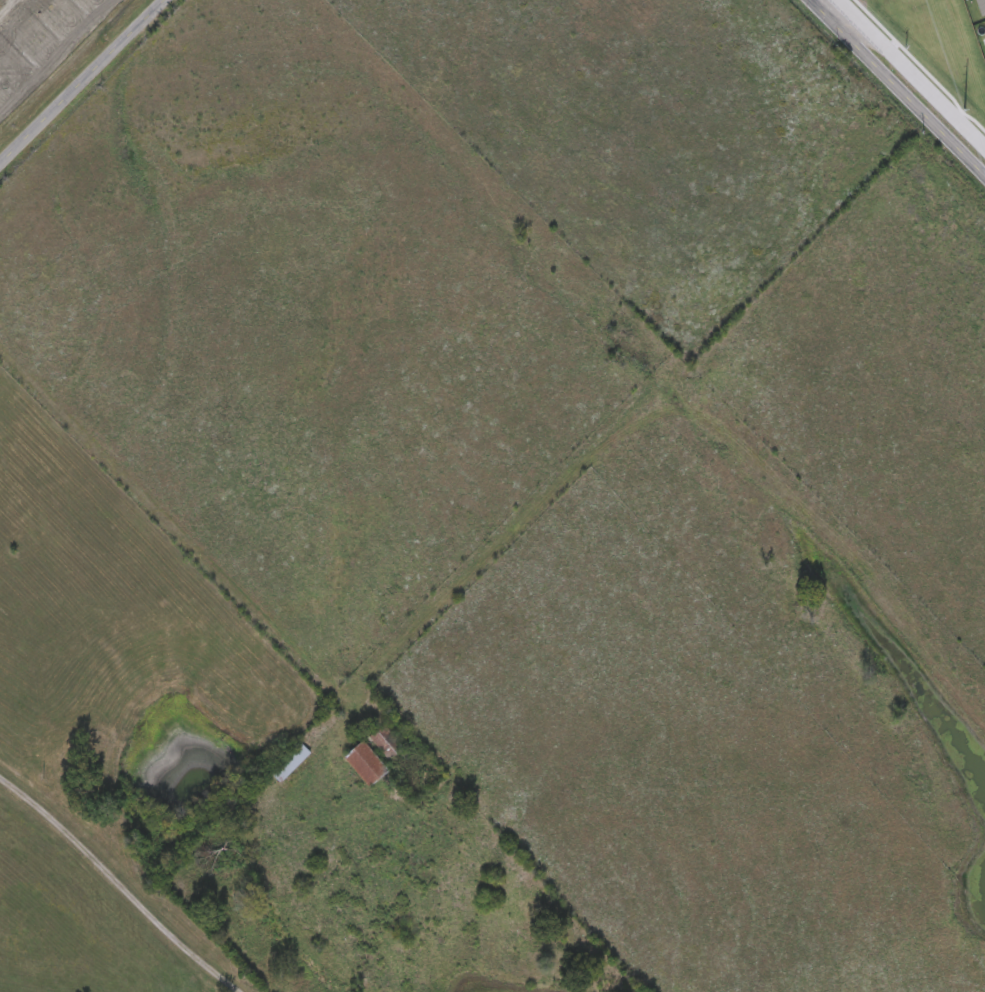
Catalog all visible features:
road: (82, 81)
road: (897, 89)
road: (181, 530)
building: (377, 732)
building: (380, 737)
building: (288, 759)
building: (363, 759)
road: (120, 887)

